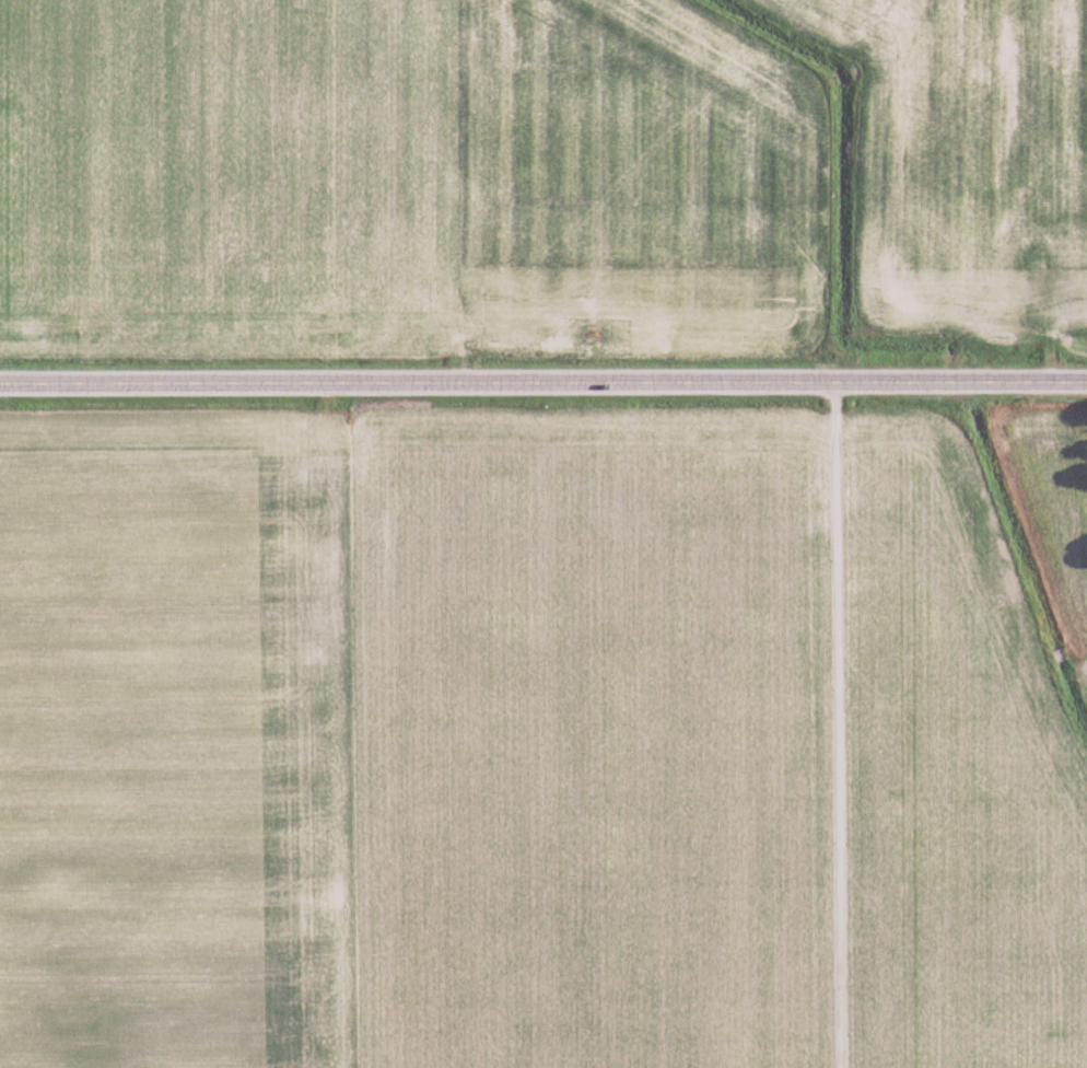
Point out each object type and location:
building: (1035, 291)
road: (543, 383)
road: (814, 725)

